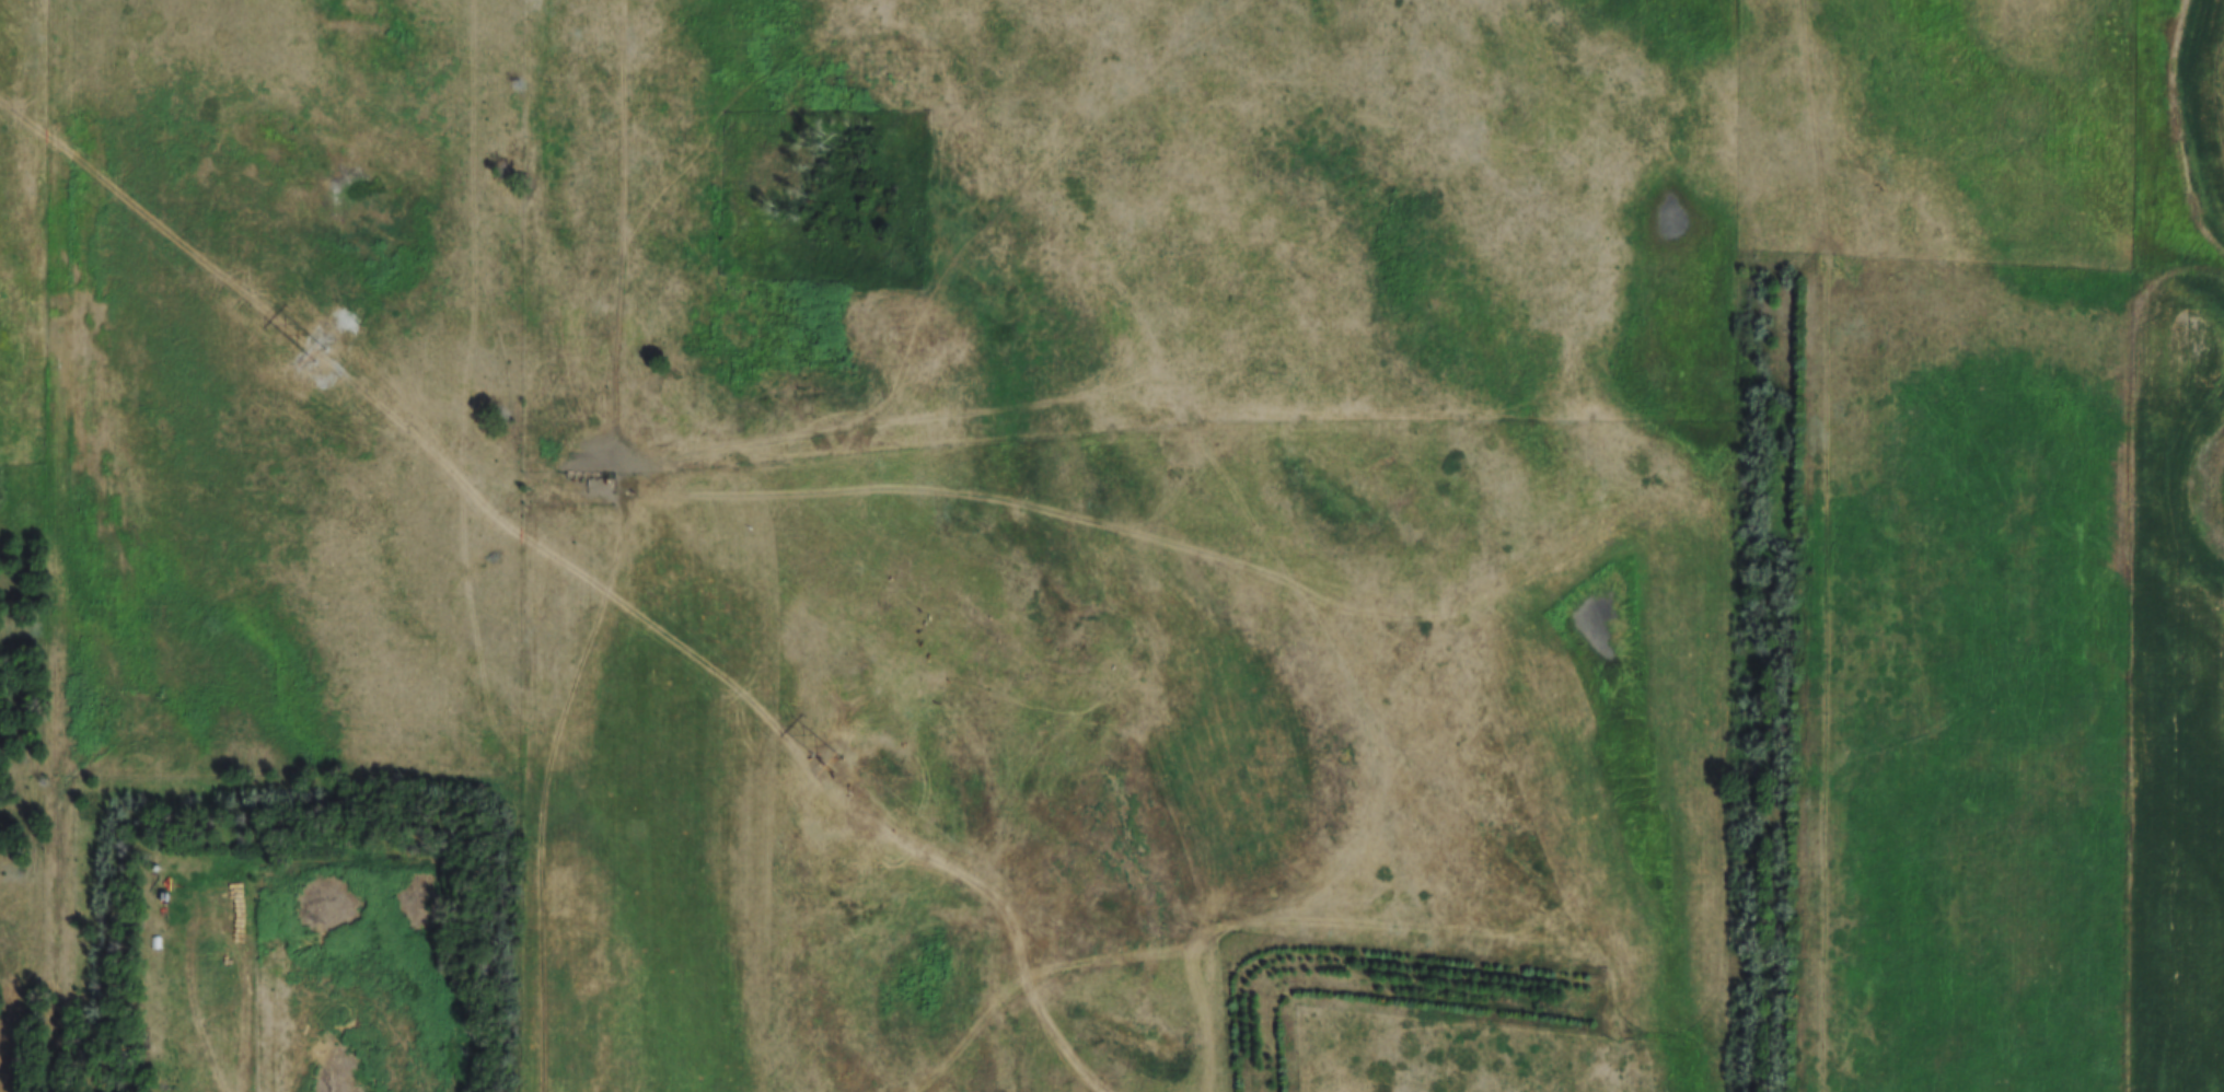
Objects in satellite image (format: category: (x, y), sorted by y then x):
power tower: (318, 350)
road: (2143, 546)
road: (1269, 548)
power tower: (832, 754)

